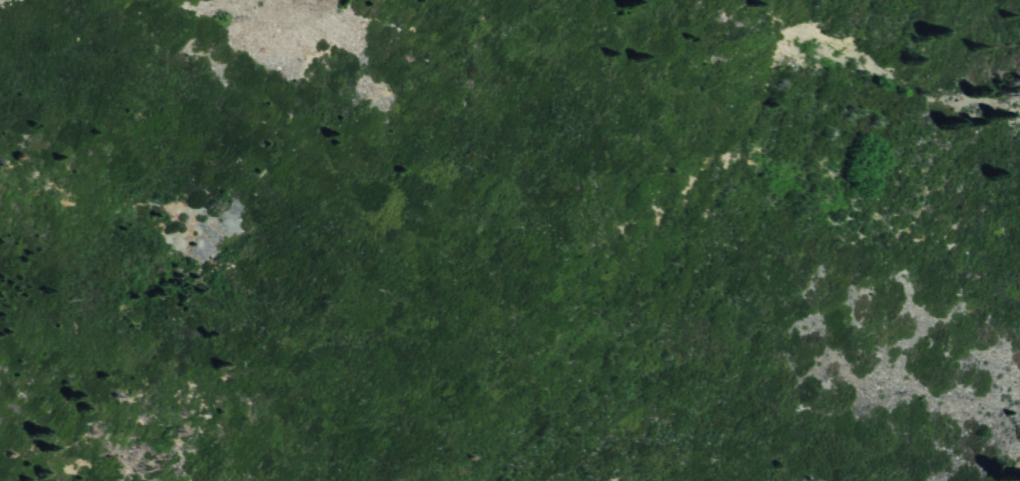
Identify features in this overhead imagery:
road: (1019, 479)

